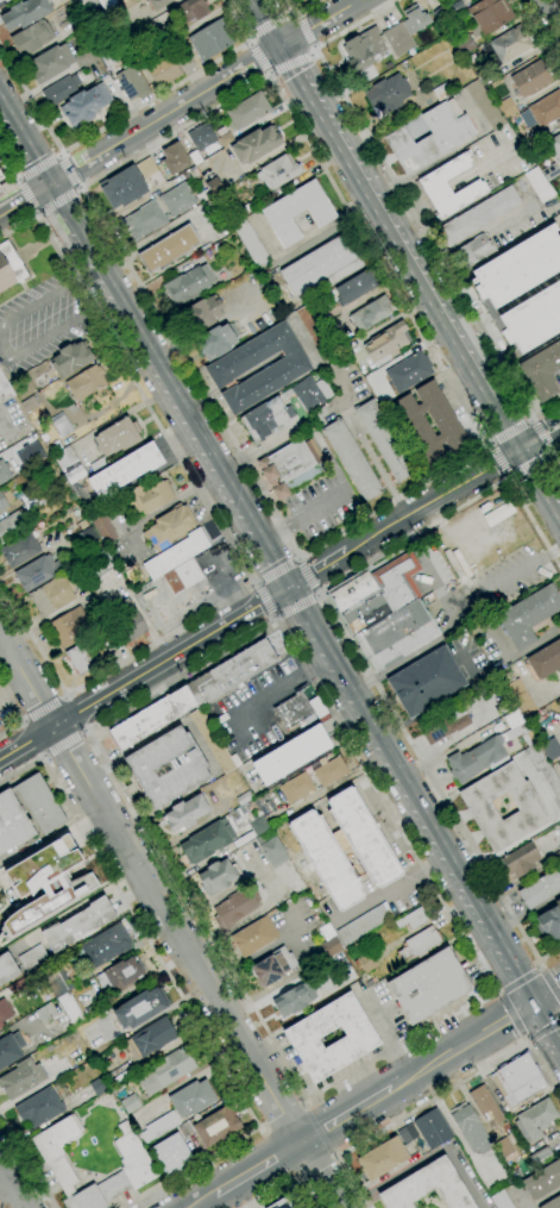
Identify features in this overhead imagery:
building: (300, 0)
building: (302, 0)
building: (4, 1)
building: (106, 4)
building: (158, 4)
road: (273, 6)
road: (300, 10)
building: (190, 11)
road: (553, 12)
building: (25, 14)
road: (292, 14)
road: (297, 14)
building: (490, 14)
building: (441, 15)
building: (414, 19)
road: (262, 24)
road: (269, 25)
road: (304, 30)
road: (539, 35)
building: (32, 38)
road: (248, 38)
road: (294, 38)
building: (212, 39)
traffic signals: (295, 39)
building: (397, 39)
road: (247, 43)
building: (464, 44)
building: (506, 46)
road: (313, 48)
traffic signals: (276, 50)
building: (363, 50)
road: (313, 52)
road: (259, 58)
building: (105, 60)
building: (50, 63)
road: (289, 63)
road: (287, 68)
building: (163, 70)
road: (269, 74)
building: (530, 79)
building: (132, 83)
road: (323, 87)
building: (61, 89)
building: (441, 92)
building: (386, 95)
building: (86, 105)
building: (484, 105)
road: (178, 106)
road: (319, 107)
building: (506, 108)
building: (247, 111)
building: (542, 111)
road: (351, 112)
road: (122, 114)
road: (14, 119)
building: (201, 137)
building: (430, 137)
building: (225, 139)
building: (256, 144)
building: (555, 145)
road: (12, 151)
road: (58, 154)
building: (195, 157)
building: (174, 158)
road: (39, 163)
road: (37, 167)
road: (479, 169)
road: (68, 171)
building: (149, 171)
building: (278, 171)
building: (552, 171)
road: (11, 174)
building: (0, 177)
road: (15, 180)
traffic signals: (51, 183)
building: (433, 184)
building: (539, 184)
building: (213, 186)
road: (80, 187)
building: (122, 187)
road: (13, 189)
road: (31, 190)
traffic signals: (33, 194)
road: (440, 195)
road: (26, 196)
road: (56, 200)
building: (177, 200)
building: (297, 212)
road: (413, 213)
road: (36, 215)
building: (478, 215)
building: (144, 221)
road: (397, 227)
road: (472, 236)
road: (63, 243)
building: (251, 244)
building: (169, 249)
building: (476, 250)
road: (89, 262)
building: (322, 265)
building: (10, 267)
road: (407, 269)
building: (188, 286)
building: (355, 287)
building: (523, 289)
building: (202, 313)
building: (370, 313)
parking lot: (39, 320)
building: (309, 320)
building: (216, 342)
building: (386, 344)
road: (2, 349)
road: (492, 351)
road: (464, 352)
building: (70, 358)
road: (158, 365)
building: (288, 368)
building: (409, 371)
building: (542, 371)
road: (496, 378)
building: (86, 382)
building: (5, 389)
building: (312, 393)
road: (161, 399)
road: (0, 406)
building: (421, 408)
building: (30, 409)
building: (319, 417)
building: (441, 417)
building: (265, 418)
road: (530, 419)
road: (546, 423)
building: (419, 431)
road: (510, 432)
road: (540, 434)
building: (117, 437)
road: (550, 437)
building: (439, 439)
building: (384, 440)
road: (533, 442)
traffic signals: (533, 442)
road: (489, 443)
road: (528, 444)
building: (313, 451)
road: (552, 451)
traffic signals: (516, 452)
building: (29, 453)
road: (555, 453)
road: (501, 459)
building: (352, 461)
road: (529, 463)
road: (375, 464)
building: (69, 465)
building: (289, 468)
building: (125, 470)
road: (527, 470)
building: (4, 472)
road: (553, 476)
road: (510, 478)
building: (147, 497)
building: (4, 499)
road: (429, 500)
parking lot: (320, 505)
road: (161, 507)
road: (548, 508)
road: (303, 515)
road: (556, 518)
building: (102, 526)
road: (245, 526)
building: (11, 527)
building: (169, 527)
road: (221, 528)
building: (56, 542)
road: (244, 549)
building: (19, 551)
building: (176, 555)
road: (300, 555)
road: (297, 557)
road: (426, 563)
building: (96, 565)
road: (278, 565)
road: (316, 567)
road: (276, 571)
building: (36, 572)
building: (182, 576)
road: (306, 576)
building: (75, 577)
building: (397, 580)
road: (504, 580)
road: (254, 583)
traffic signals: (289, 584)
parking lot: (490, 587)
road: (270, 594)
road: (316, 595)
building: (50, 596)
traffic signals: (271, 596)
road: (263, 600)
building: (358, 602)
road: (292, 605)
building: (527, 615)
road: (272, 619)
building: (126, 621)
building: (69, 627)
building: (396, 634)
road: (300, 643)
road: (351, 650)
road: (322, 653)
road: (518, 653)
building: (87, 656)
building: (543, 662)
road: (144, 672)
building: (231, 672)
building: (426, 682)
road: (62, 695)
road: (271, 695)
road: (67, 696)
building: (520, 697)
road: (11, 703)
road: (42, 707)
parking lot: (253, 708)
building: (292, 711)
road: (77, 712)
building: (152, 718)
road: (23, 720)
road: (23, 724)
building: (441, 726)
road: (88, 727)
road: (11, 730)
road: (86, 733)
road: (31, 738)
building: (212, 740)
road: (64, 745)
road: (40, 755)
building: (291, 755)
road: (45, 757)
building: (235, 759)
building: (476, 759)
building: (166, 768)
road: (397, 770)
building: (329, 771)
building: (543, 772)
building: (296, 788)
road: (398, 796)
building: (244, 797)
building: (42, 806)
building: (478, 806)
building: (184, 813)
building: (238, 818)
building: (258, 826)
road: (390, 830)
building: (207, 841)
building: (559, 845)
building: (271, 849)
building: (345, 849)
building: (558, 850)
building: (555, 857)
building: (521, 860)
road: (426, 870)
building: (220, 876)
building: (46, 883)
building: (541, 889)
road: (377, 897)
building: (234, 908)
road: (169, 920)
building: (411, 920)
building: (550, 921)
building: (363, 924)
building: (78, 925)
road: (485, 931)
building: (256, 933)
building: (329, 941)
building: (420, 944)
building: (106, 945)
building: (32, 957)
road: (485, 957)
building: (365, 963)
road: (536, 965)
building: (272, 966)
building: (7, 968)
building: (119, 976)
road: (521, 978)
road: (517, 981)
building: (57, 983)
building: (428, 985)
road: (176, 988)
road: (548, 989)
road: (496, 991)
road: (547, 994)
building: (294, 1000)
traffic signals: (535, 1002)
building: (70, 1008)
building: (140, 1008)
building: (5, 1010)
road: (517, 1010)
building: (45, 1013)
traffic signals: (518, 1013)
road: (511, 1015)
road: (547, 1022)
building: (0, 1026)
road: (542, 1027)
road: (383, 1031)
building: (302, 1037)
building: (149, 1039)
road: (472, 1039)
road: (526, 1039)
building: (10, 1049)
road: (547, 1060)
road: (542, 1070)
building: (165, 1071)
building: (21, 1078)
building: (517, 1079)
road: (401, 1082)
building: (99, 1087)
building: (191, 1099)
road: (309, 1101)
road: (302, 1102)
building: (130, 1103)
building: (485, 1106)
building: (39, 1107)
road: (282, 1113)
road: (346, 1115)
road: (404, 1115)
building: (535, 1120)
road: (260, 1126)
building: (159, 1127)
building: (215, 1127)
building: (432, 1128)
building: (470, 1128)
building: (184, 1129)
building: (407, 1134)
building: (503, 1147)
building: (172, 1154)
building: (540, 1157)
building: (382, 1158)
road: (428, 1158)
road: (334, 1159)
road: (27, 1160)
building: (136, 1162)
road: (258, 1168)
road: (315, 1171)
building: (542, 1179)
road: (295, 1184)
road: (12, 1187)
building: (427, 1187)
road: (284, 1190)
road: (6, 1191)
road: (545, 1197)
road: (225, 1200)
building: (501, 1200)
road: (203, 1201)
building: (285, 1202)
building: (553, 1203)

